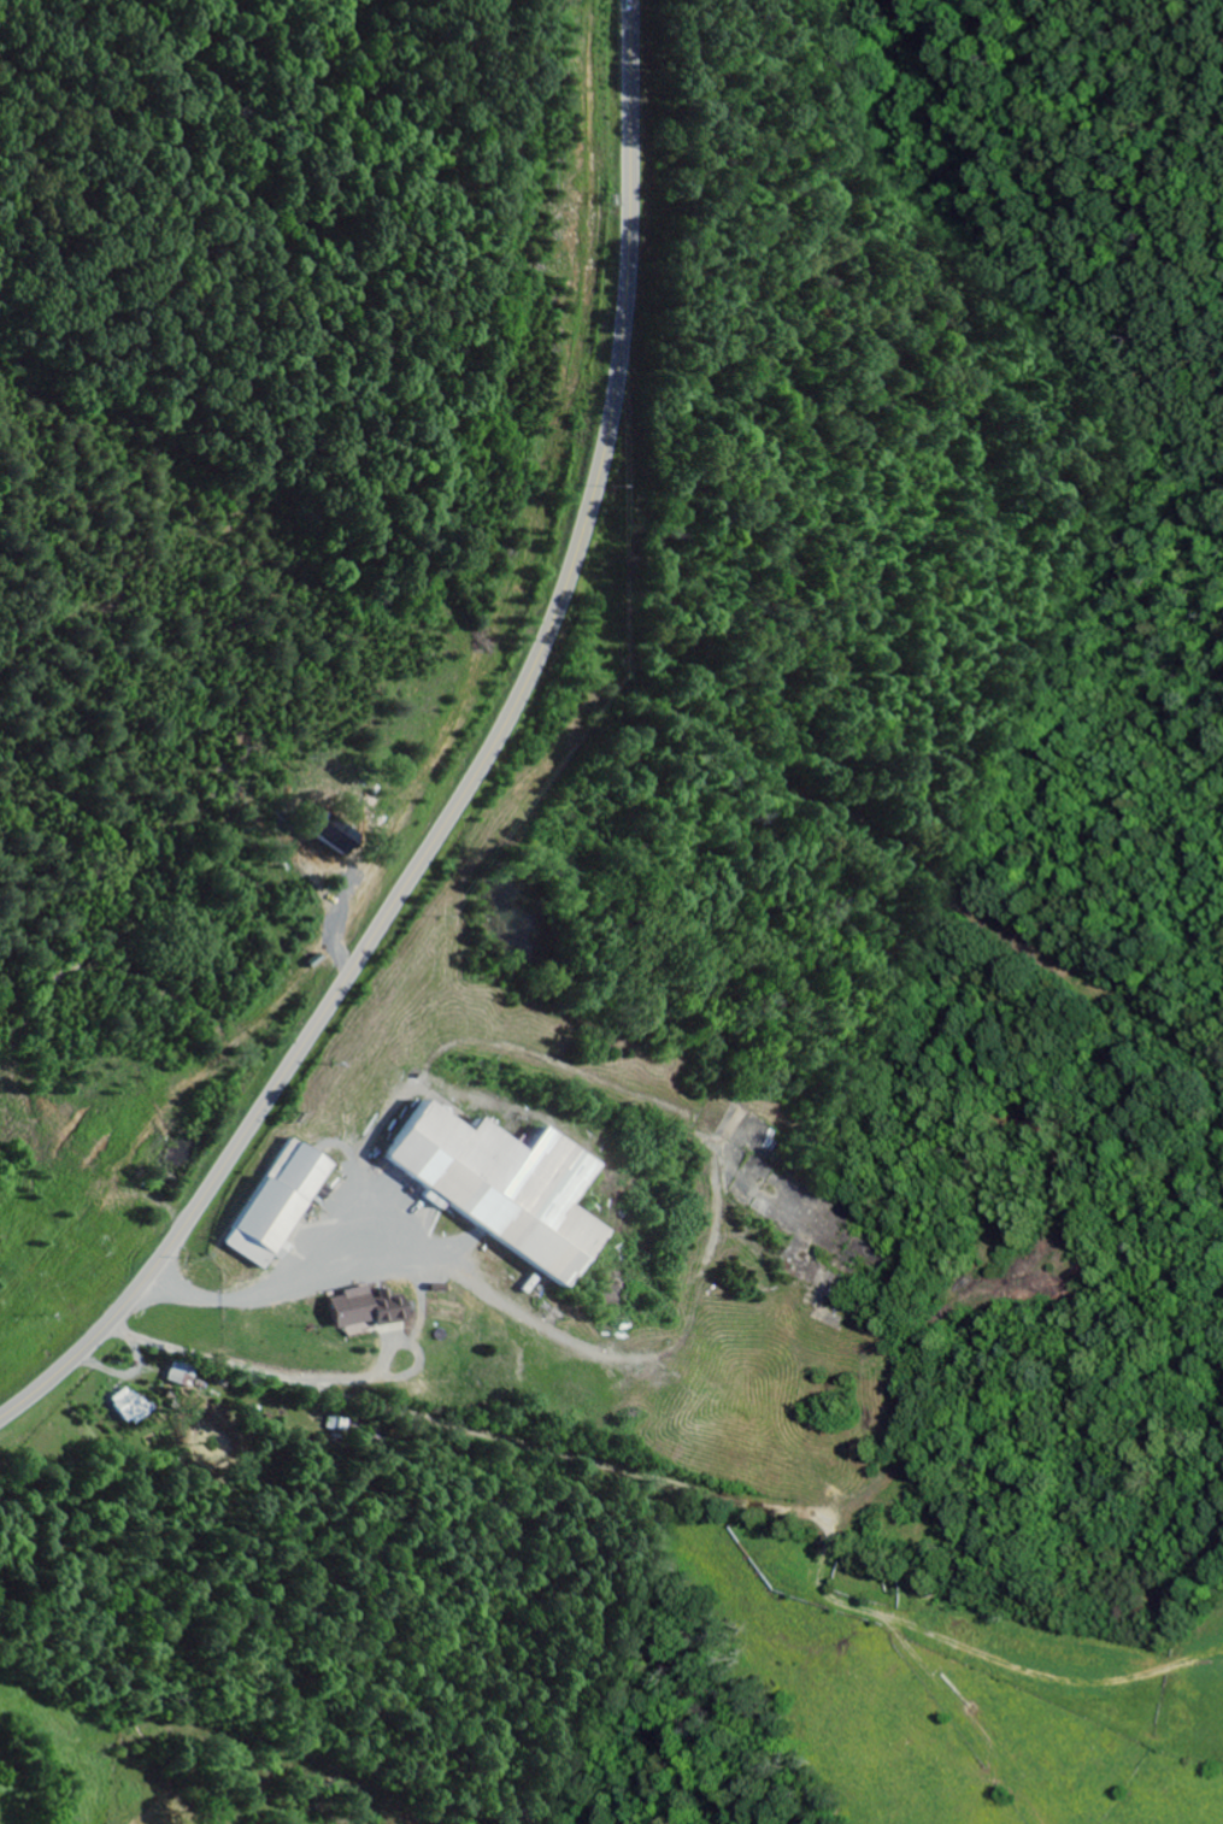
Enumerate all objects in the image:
road: (475, 776)
building: (510, 1187)
building: (282, 1204)
building: (371, 1308)
building: (183, 1375)
building: (133, 1405)
road: (628, 1459)

